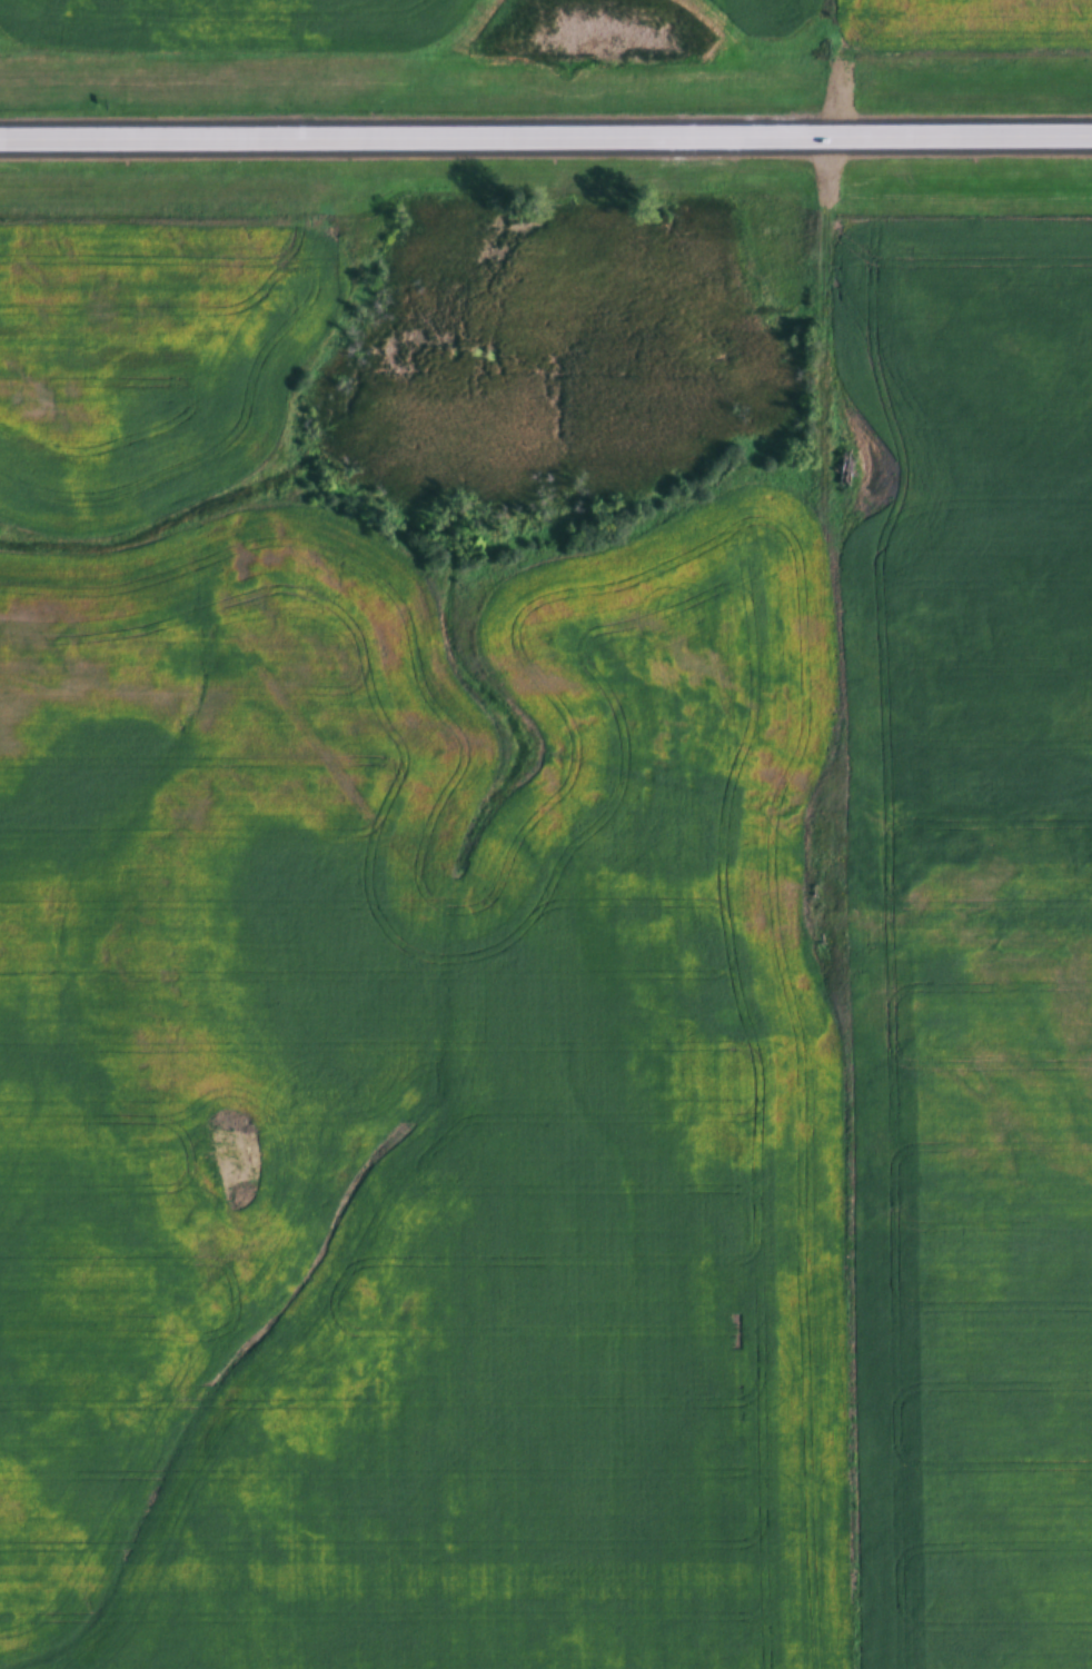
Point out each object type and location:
road: (545, 135)
river: (492, 371)

